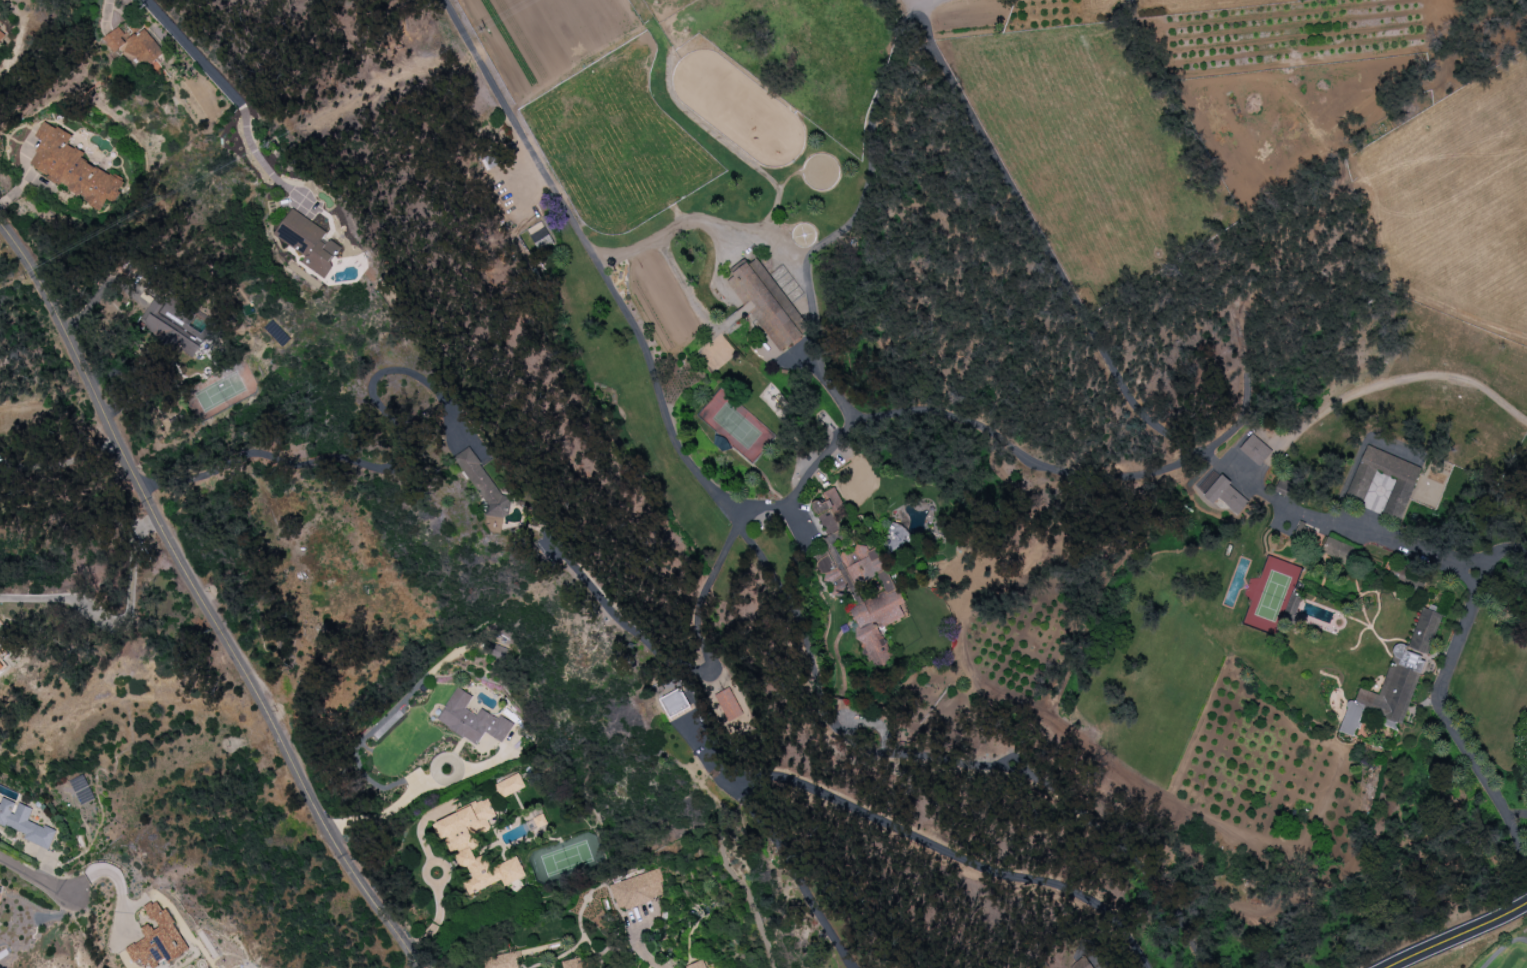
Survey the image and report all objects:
building: (2, 33)
building: (115, 39)
building: (143, 48)
building: (73, 167)
road: (678, 226)
building: (308, 241)
road: (606, 271)
road: (408, 297)
building: (767, 302)
building: (166, 329)
road: (1098, 448)
building: (1256, 450)
road: (63, 462)
road: (365, 463)
building: (484, 483)
building: (1403, 487)
building: (1225, 497)
road: (1339, 529)
building: (1304, 531)
road: (1506, 549)
building: (1338, 550)
road: (204, 596)
building: (866, 596)
road: (118, 623)
building: (0, 655)
building: (1, 665)
building: (1396, 677)
building: (674, 702)
building: (726, 705)
road: (1445, 715)
building: (472, 719)
building: (509, 785)
building: (81, 789)
road: (422, 791)
building: (25, 823)
building: (461, 846)
road: (23, 872)
building: (637, 889)
road: (1461, 936)
building: (158, 938)
road: (1500, 946)
park: (1501, 954)
building: (495, 961)
building: (573, 963)
building: (1081, 963)
building: (698, 964)

